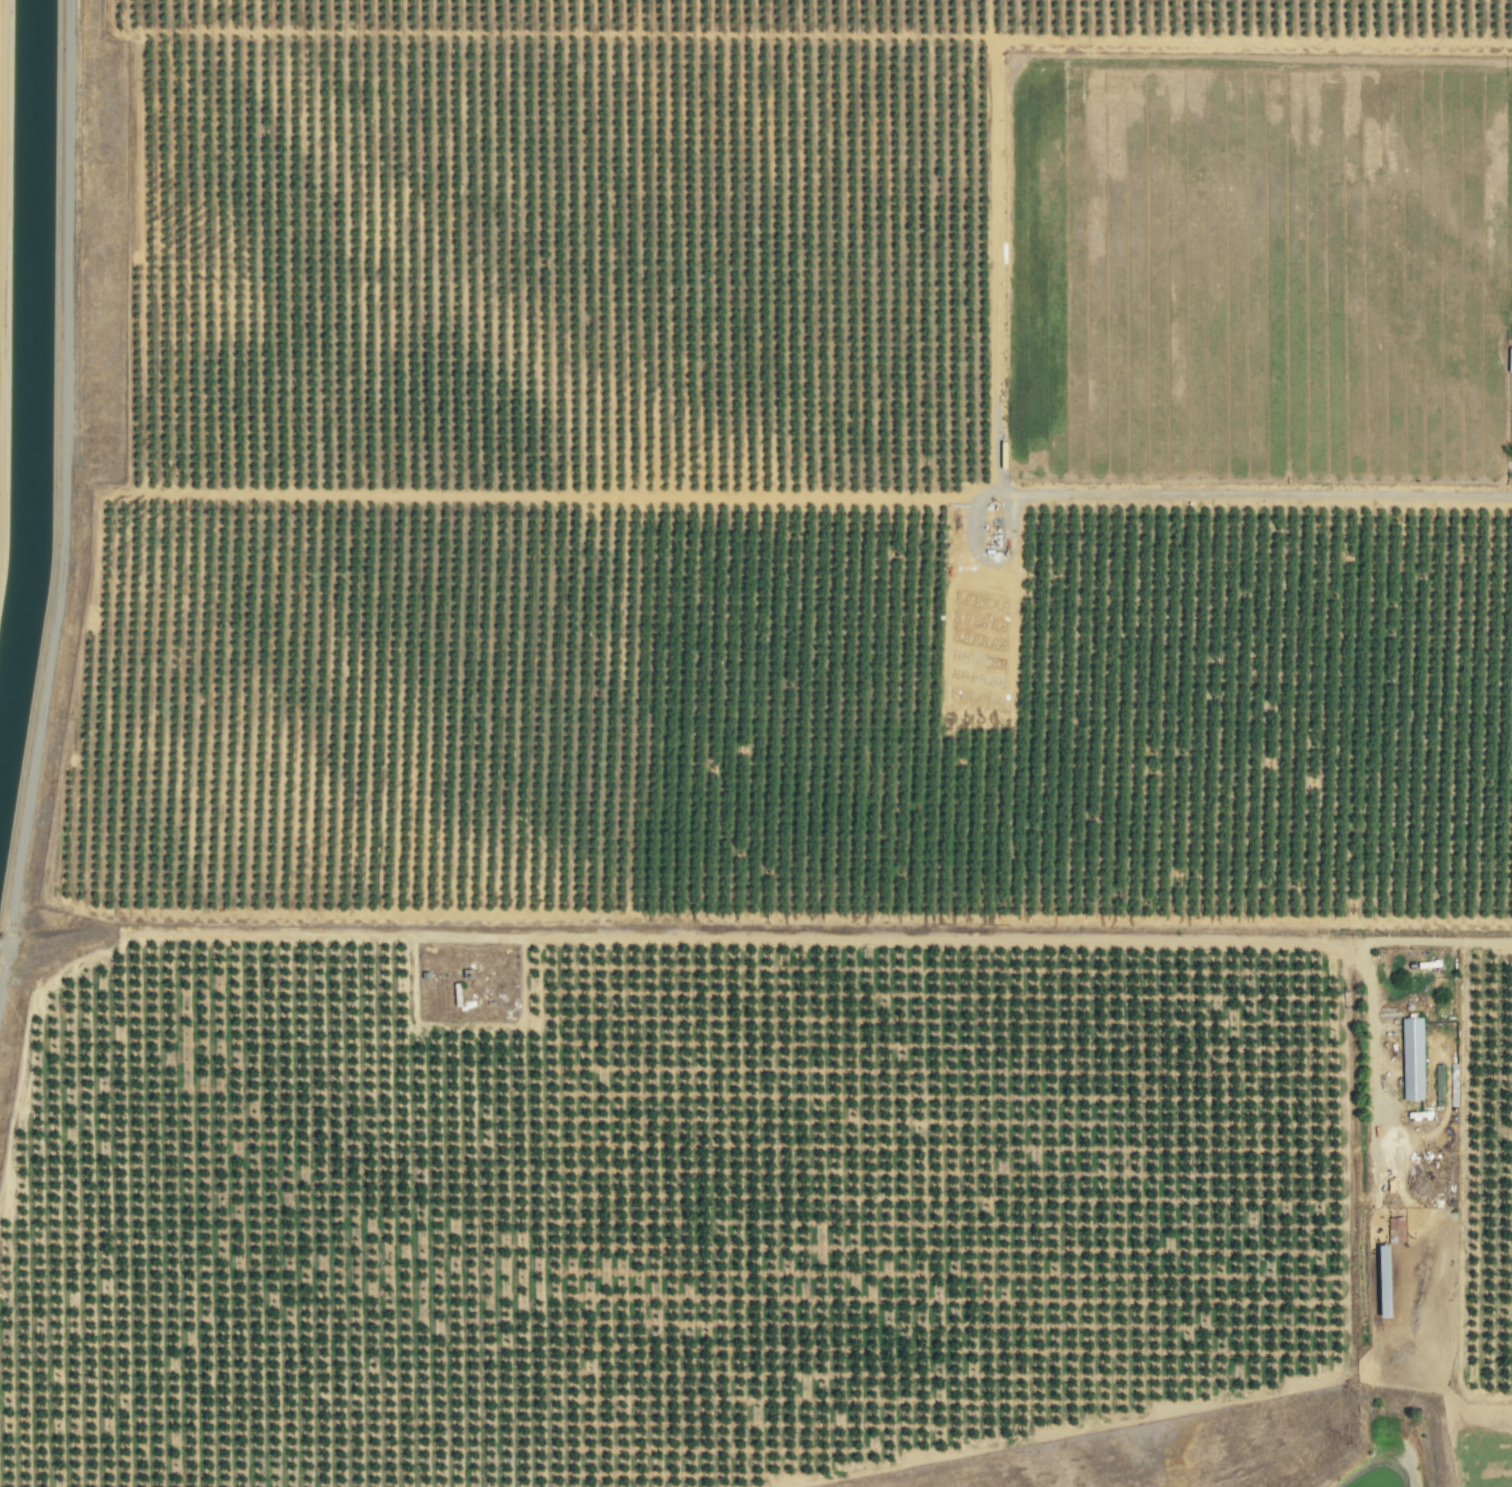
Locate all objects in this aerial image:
road: (1264, 489)
road: (832, 934)
building: (1410, 1058)
road: (1364, 1153)

